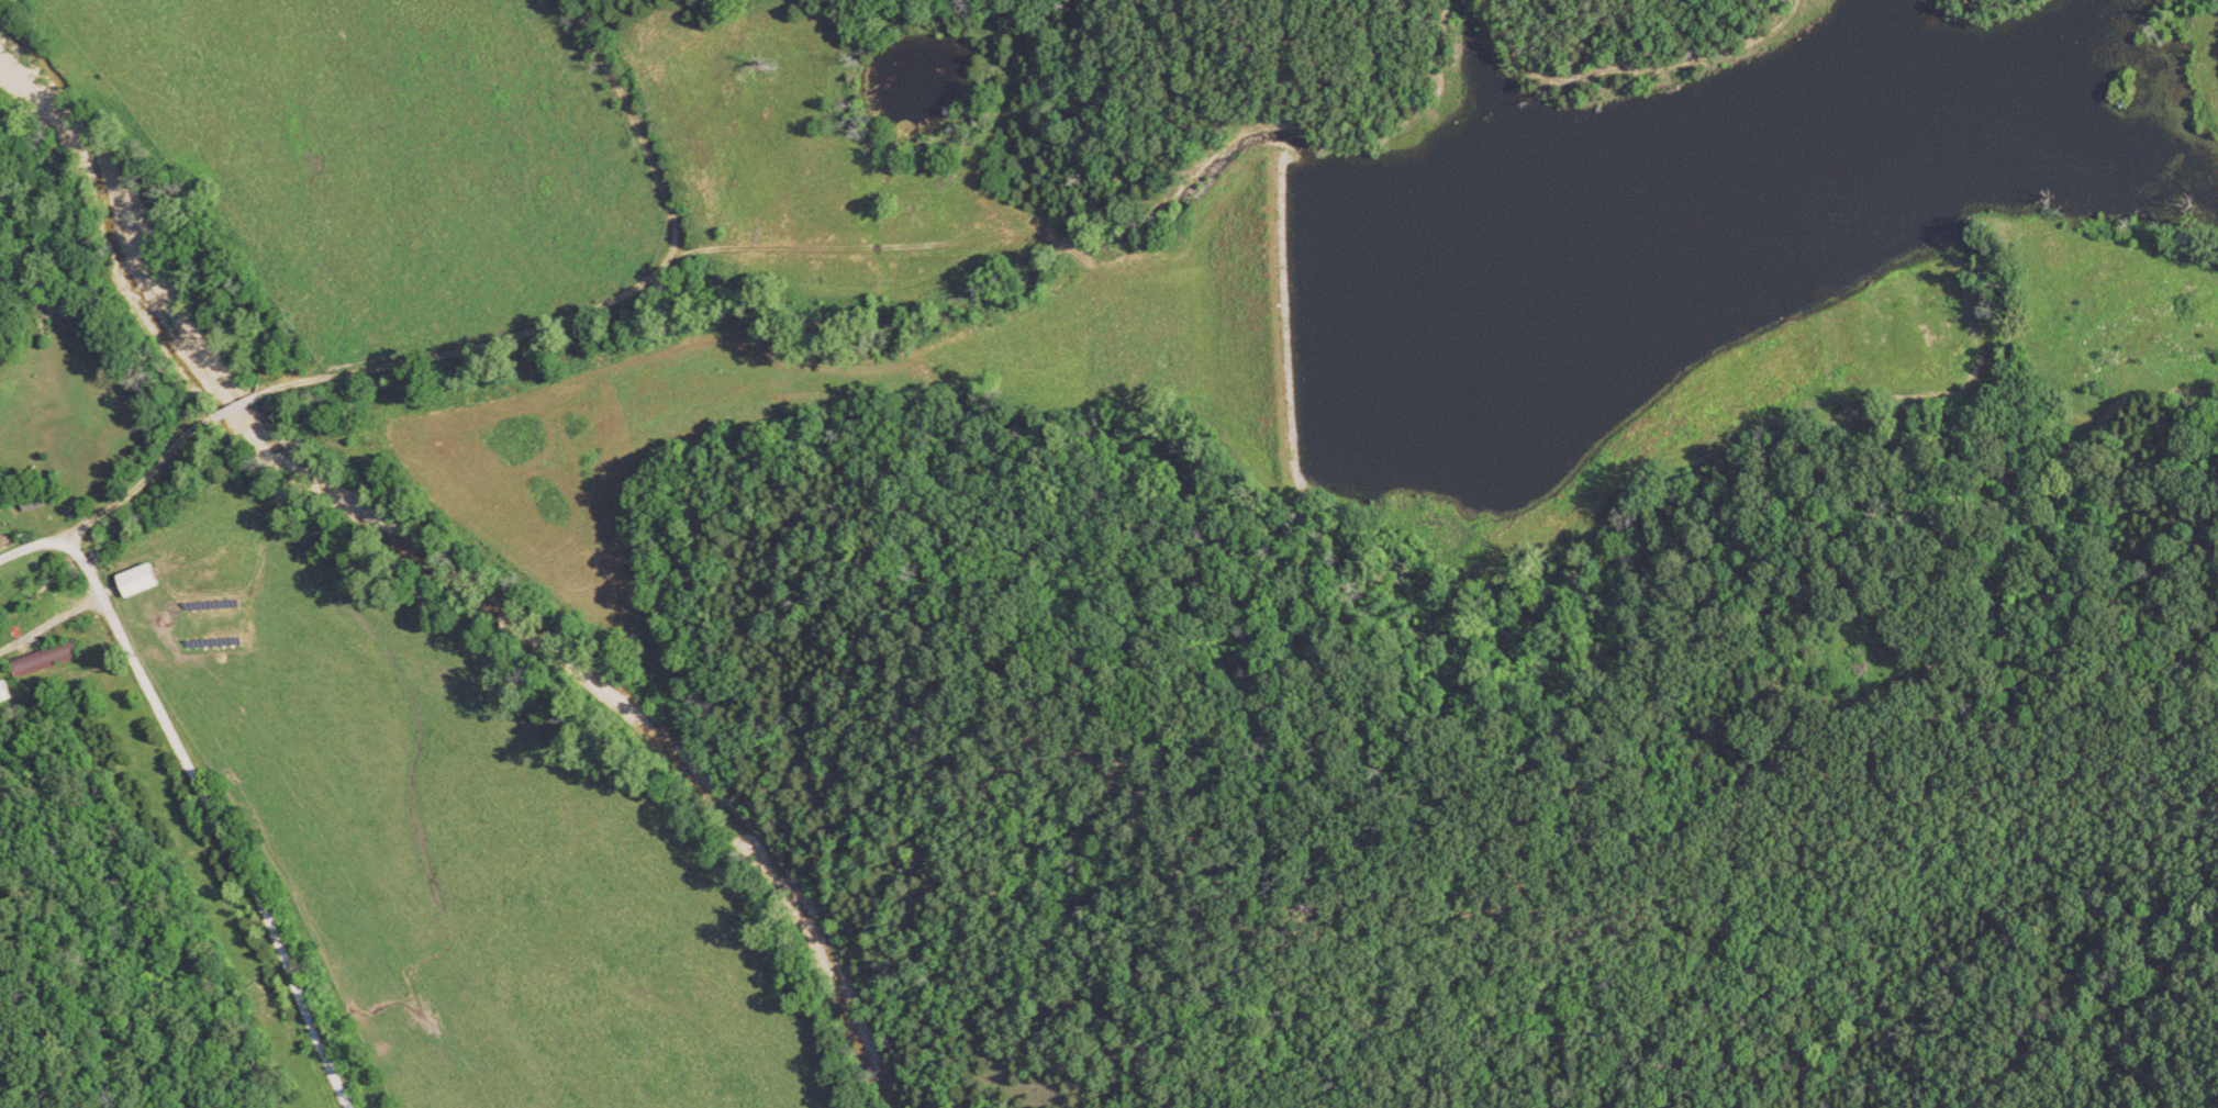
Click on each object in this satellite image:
road: (599, 313)
dam: (1293, 317)
road: (153, 474)
road: (34, 551)
building: (140, 582)
river: (477, 589)
building: (44, 661)
building: (3, 692)
road: (221, 816)

